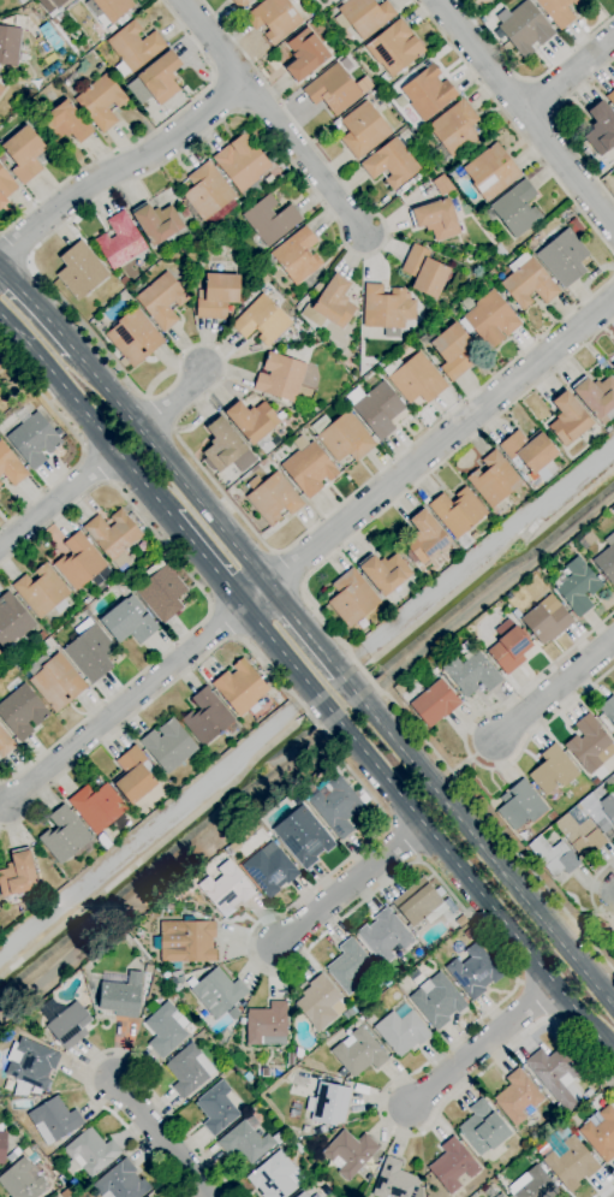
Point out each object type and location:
building: (22, 1)
building: (59, 2)
building: (240, 4)
building: (108, 10)
building: (558, 11)
building: (359, 18)
building: (274, 19)
building: (524, 28)
building: (64, 37)
road: (213, 42)
building: (10, 45)
building: (133, 48)
building: (394, 48)
building: (305, 55)
road: (570, 76)
building: (160, 77)
road: (527, 79)
building: (1, 89)
building: (333, 90)
building: (136, 91)
building: (428, 93)
building: (610, 97)
building: (101, 102)
road: (525, 113)
building: (65, 124)
road: (558, 126)
road: (515, 128)
building: (455, 129)
building: (601, 129)
building: (363, 130)
road: (150, 135)
building: (24, 154)
building: (269, 155)
road: (305, 159)
building: (242, 162)
building: (391, 164)
road: (123, 167)
building: (491, 172)
building: (613, 178)
building: (409, 184)
building: (442, 185)
building: (5, 186)
building: (255, 186)
building: (208, 192)
building: (517, 209)
building: (270, 220)
building: (436, 220)
building: (156, 223)
building: (574, 227)
building: (119, 242)
road: (16, 244)
building: (296, 256)
building: (564, 257)
building: (81, 271)
building: (424, 272)
building: (527, 283)
building: (184, 284)
building: (217, 296)
building: (161, 301)
building: (334, 303)
building: (428, 307)
road: (37, 308)
building: (387, 310)
building: (489, 319)
building: (262, 321)
road: (90, 336)
building: (133, 337)
building: (451, 350)
building: (613, 366)
building: (1, 367)
building: (280, 378)
building: (413, 378)
building: (596, 397)
road: (174, 402)
building: (378, 410)
road: (84, 413)
building: (568, 420)
building: (254, 423)
building: (342, 437)
building: (32, 439)
road: (78, 442)
building: (226, 448)
road: (427, 451)
building: (530, 455)
road: (169, 464)
building: (11, 466)
building: (308, 466)
building: (493, 480)
building: (0, 484)
road: (58, 498)
building: (272, 498)
building: (457, 512)
building: (114, 537)
building: (424, 539)
building: (589, 539)
road: (204, 557)
road: (475, 558)
building: (606, 561)
building: (81, 563)
road: (285, 571)
building: (385, 573)
building: (578, 587)
building: (42, 592)
building: (161, 592)
road: (208, 595)
building: (352, 598)
building: (515, 614)
building: (12, 620)
road: (326, 621)
building: (546, 621)
building: (129, 622)
road: (300, 628)
building: (48, 645)
building: (508, 647)
building: (90, 653)
building: (471, 674)
building: (428, 679)
building: (55, 681)
building: (240, 688)
building: (399, 689)
road: (550, 691)
road: (121, 704)
building: (434, 704)
building: (608, 710)
building: (22, 712)
building: (208, 717)
road: (465, 741)
building: (5, 743)
building: (168, 745)
building: (590, 745)
building: (553, 770)
building: (613, 774)
building: (133, 776)
building: (520, 805)
building: (335, 806)
building: (96, 807)
building: (600, 811)
road: (425, 825)
building: (64, 835)
building: (579, 835)
building: (303, 837)
road: (476, 840)
building: (232, 848)
building: (554, 857)
building: (269, 870)
building: (18, 875)
road: (350, 884)
building: (226, 889)
road: (590, 891)
building: (421, 905)
building: (165, 907)
building: (460, 922)
building: (385, 936)
building: (185, 942)
road: (309, 950)
building: (348, 966)
building: (148, 970)
building: (473, 972)
building: (177, 973)
building: (217, 992)
building: (120, 995)
building: (437, 1001)
building: (320, 1003)
building: (348, 1013)
building: (233, 1014)
building: (366, 1014)
building: (65, 1023)
building: (267, 1025)
building: (163, 1031)
building: (401, 1032)
road: (481, 1045)
road: (111, 1051)
building: (358, 1054)
road: (612, 1054)
building: (30, 1063)
building: (189, 1071)
building: (555, 1075)
building: (517, 1097)
building: (328, 1104)
building: (216, 1108)
building: (53, 1121)
building: (483, 1128)
building: (323, 1130)
building: (306, 1132)
building: (601, 1134)
road: (166, 1142)
building: (245, 1142)
building: (2, 1145)
building: (298, 1148)
building: (89, 1154)
building: (350, 1154)
building: (13, 1155)
building: (571, 1165)
building: (452, 1166)
building: (275, 1177)
building: (22, 1180)
building: (395, 1181)
building: (120, 1183)
building: (533, 1184)
road: (606, 1190)
building: (66, 1193)
building: (302, 1195)
building: (500, 1195)
building: (52, 1196)
building: (316, 1196)

